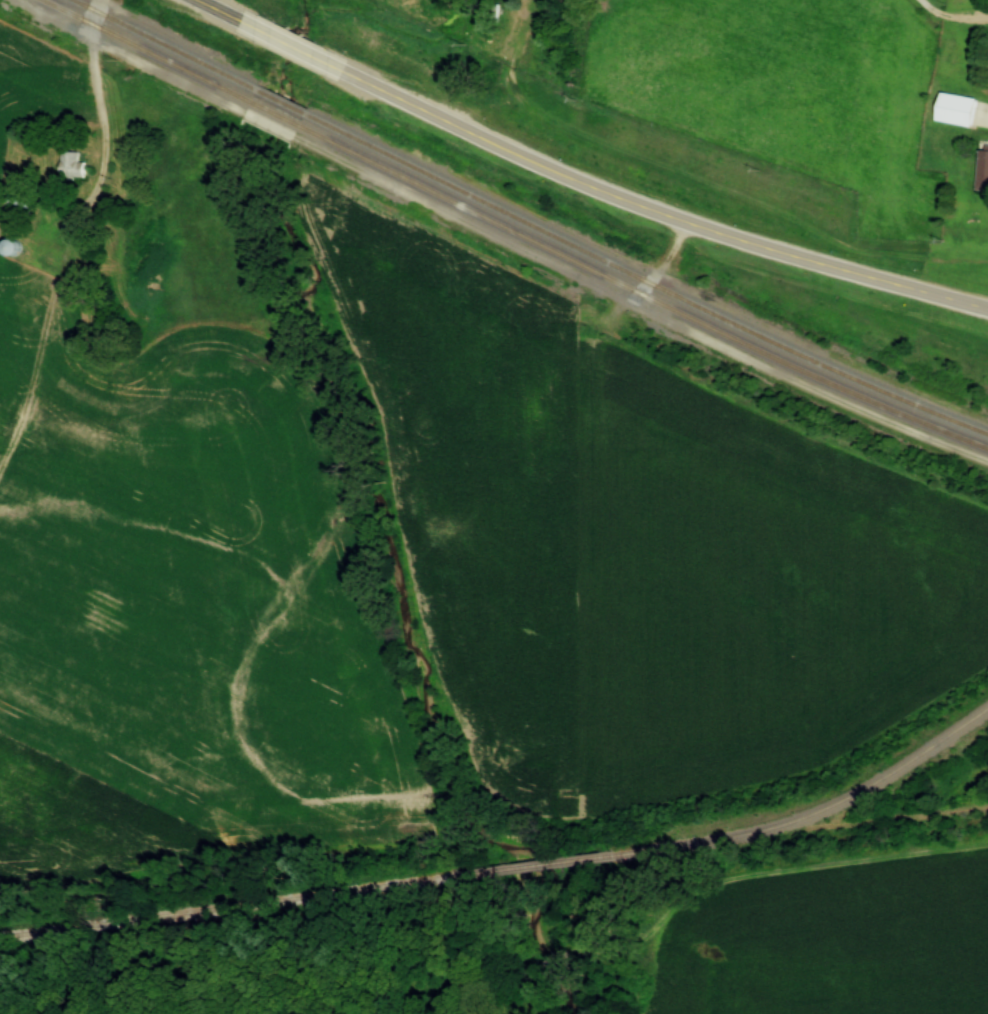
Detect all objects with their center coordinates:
building: (494, 14)
road: (954, 17)
building: (962, 111)
road: (98, 112)
building: (70, 165)
building: (985, 174)
road: (576, 184)
building: (11, 198)
railway: (528, 223)
railway: (512, 230)
building: (8, 247)
railway: (828, 805)
railway: (324, 894)
crop: (827, 938)

